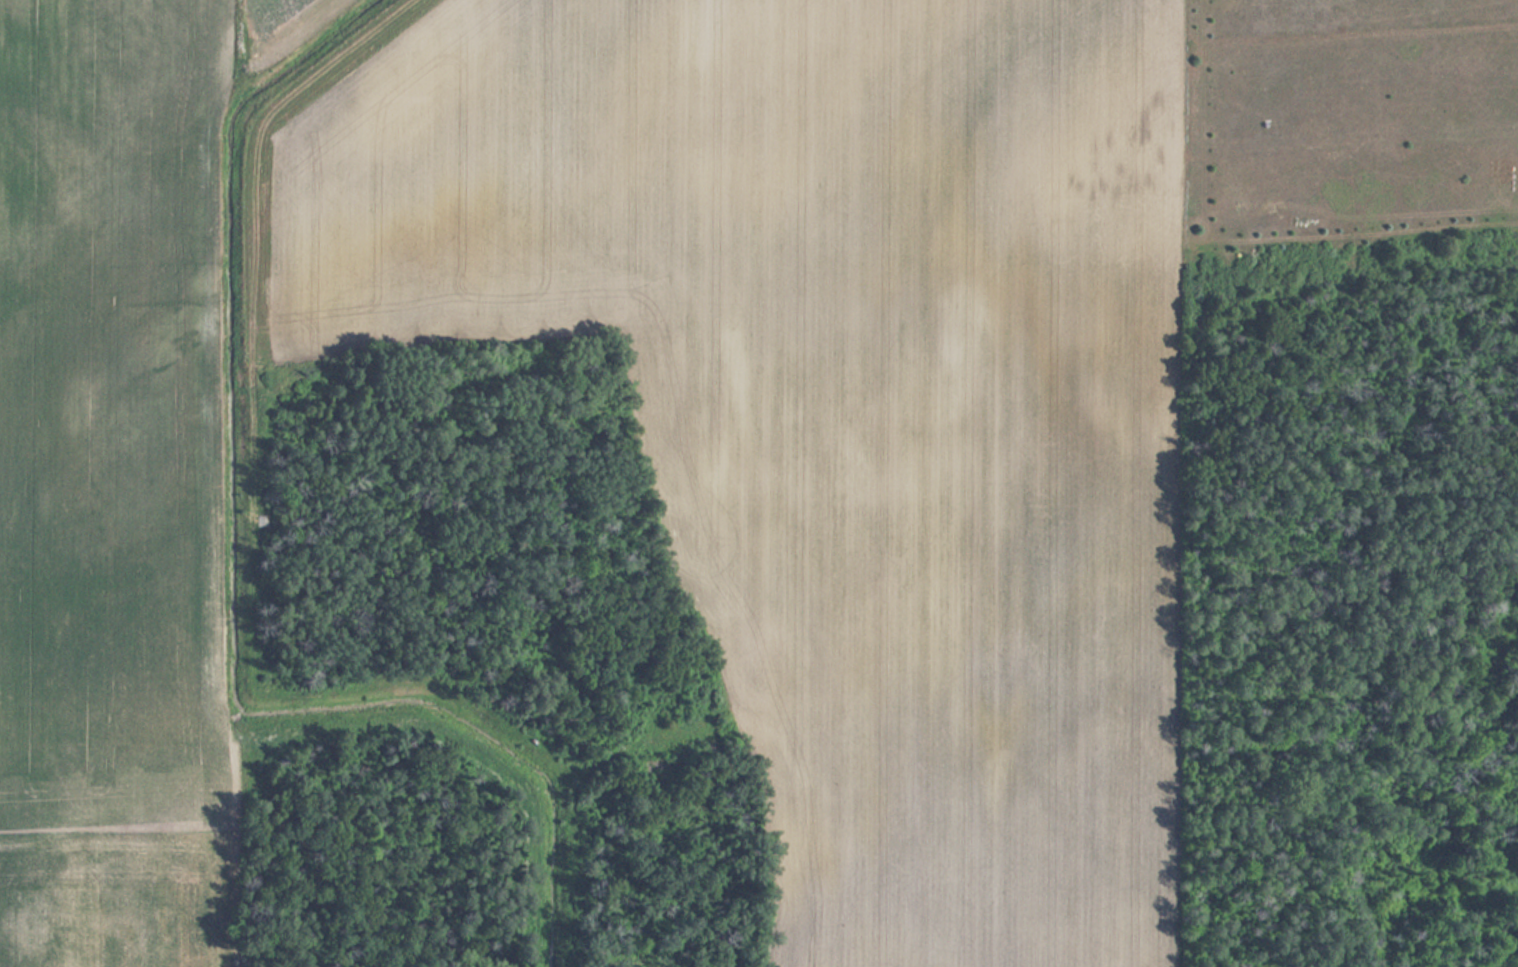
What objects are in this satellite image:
park: (1349, 621)

